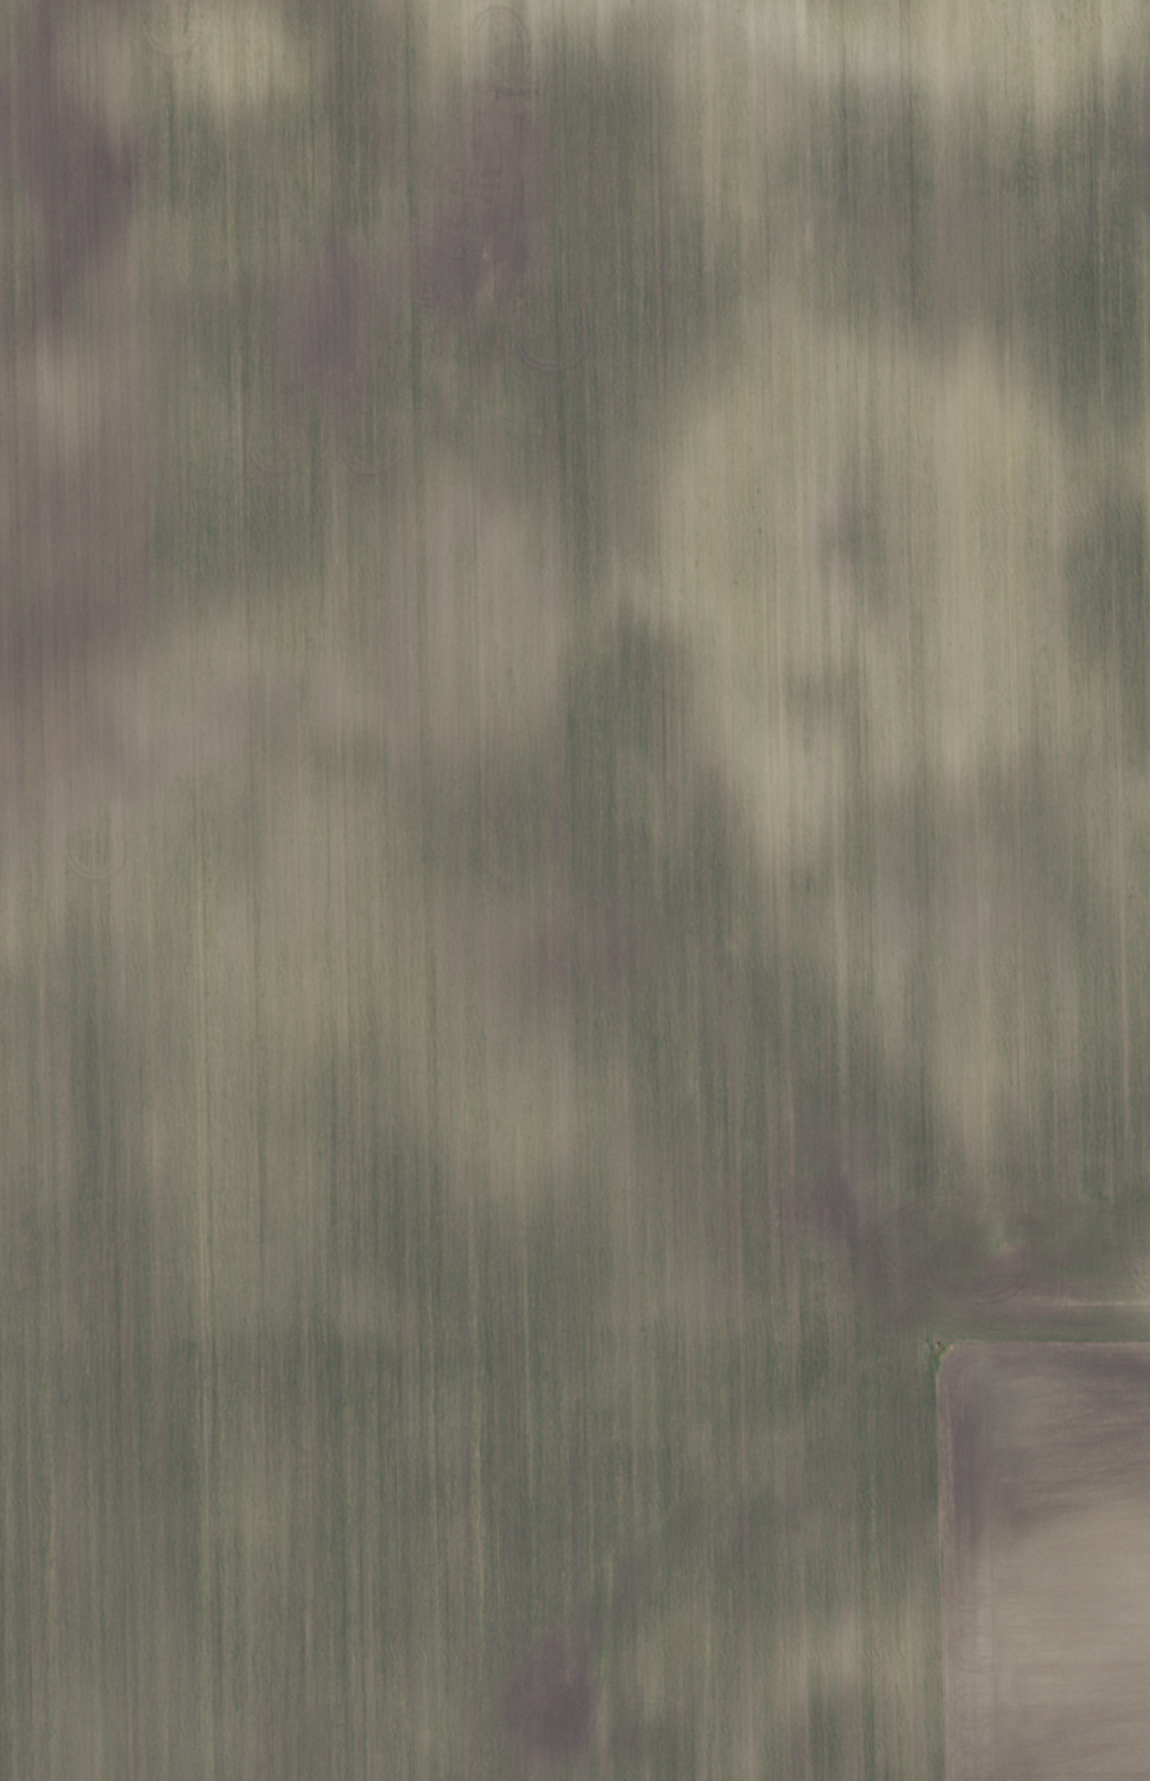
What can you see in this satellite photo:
crop: (575, 890)

